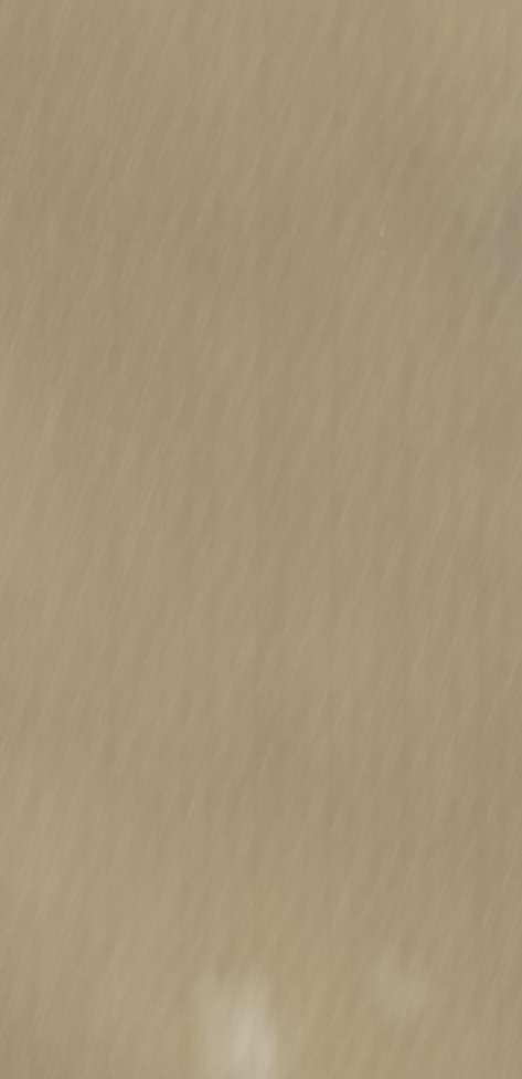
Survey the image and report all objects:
crop: (260, 539)

